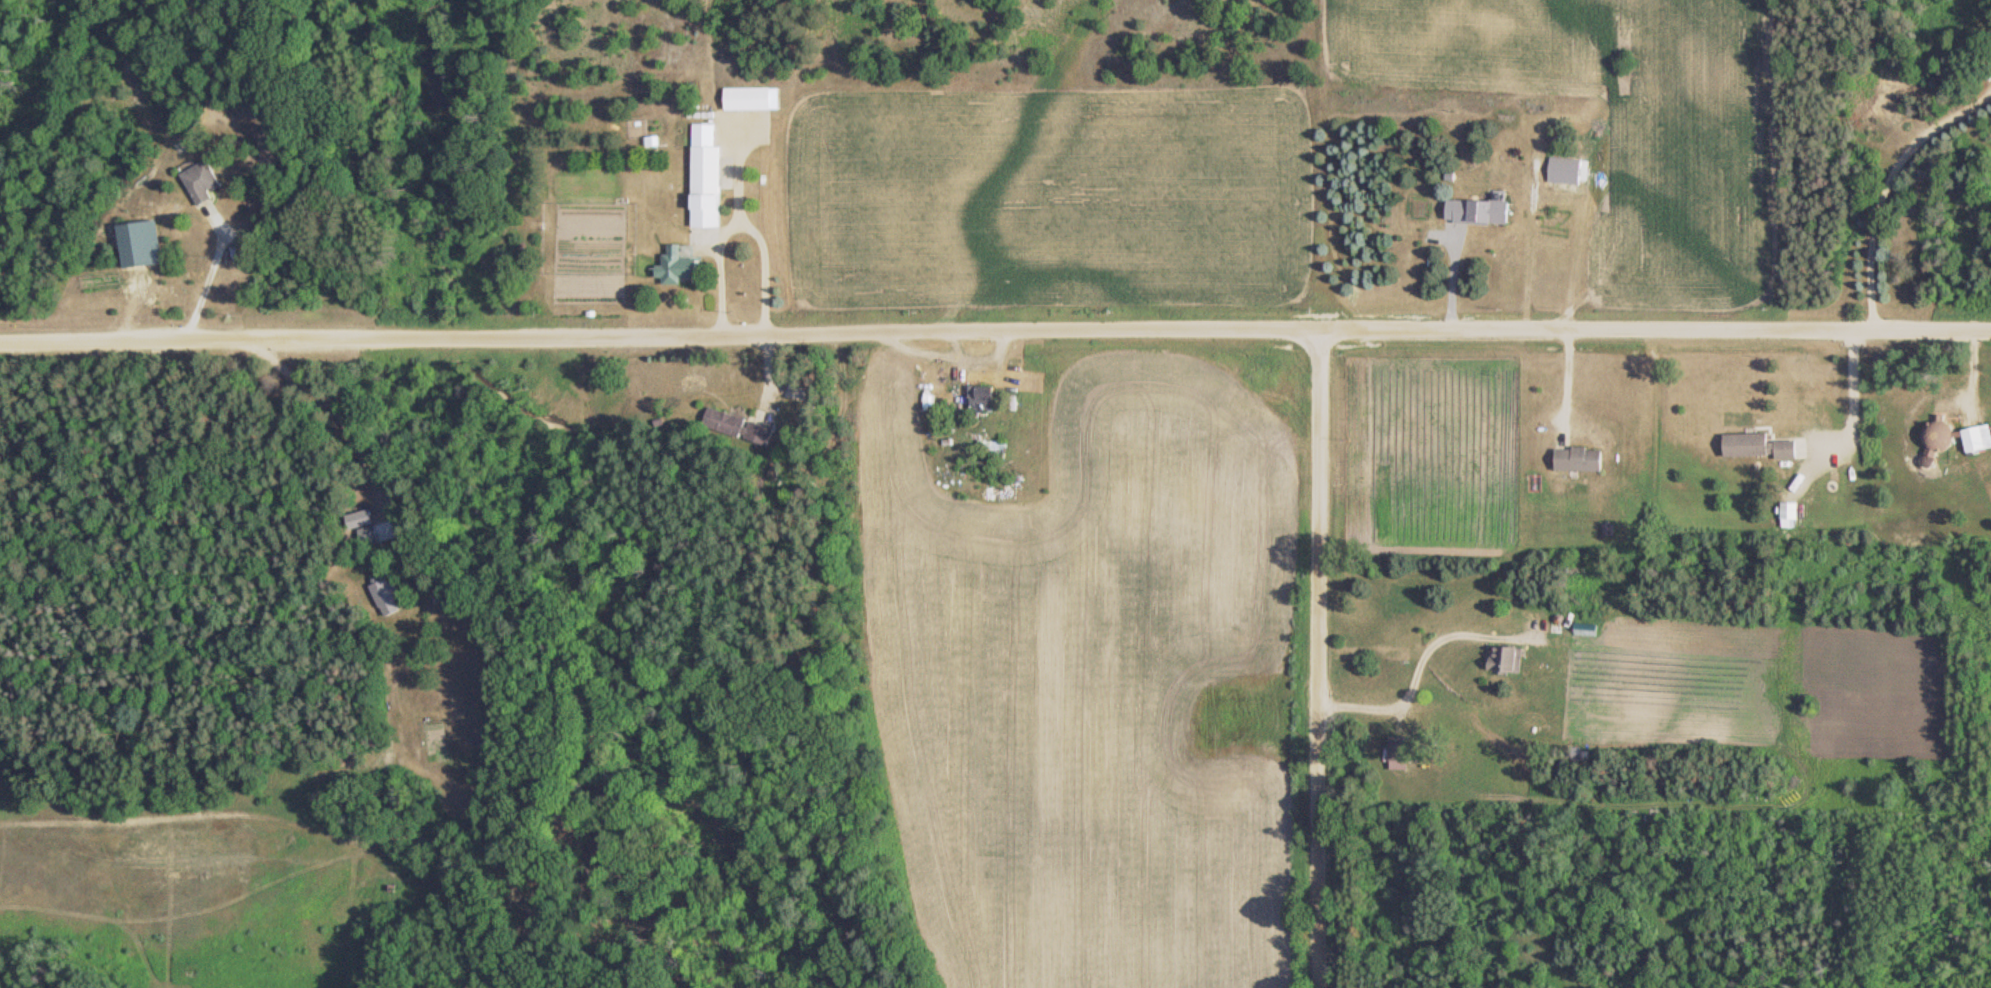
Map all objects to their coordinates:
building: (744, 99)
building: (1561, 164)
building: (700, 176)
building: (198, 183)
building: (1476, 211)
building: (672, 264)
road: (995, 306)
building: (978, 396)
building: (735, 426)
building: (1990, 426)
building: (1969, 439)
building: (1752, 446)
building: (987, 449)
building: (1575, 459)
building: (1455, 510)
building: (1785, 516)
road: (1310, 645)
building: (1395, 753)

